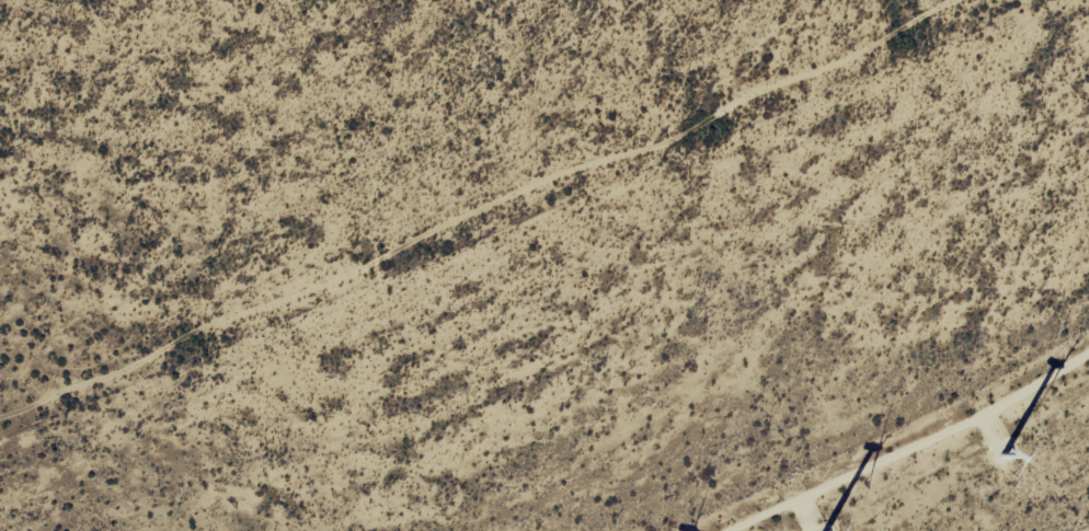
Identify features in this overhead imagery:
wind turbine: (996, 465)
wind turbine: (813, 530)

